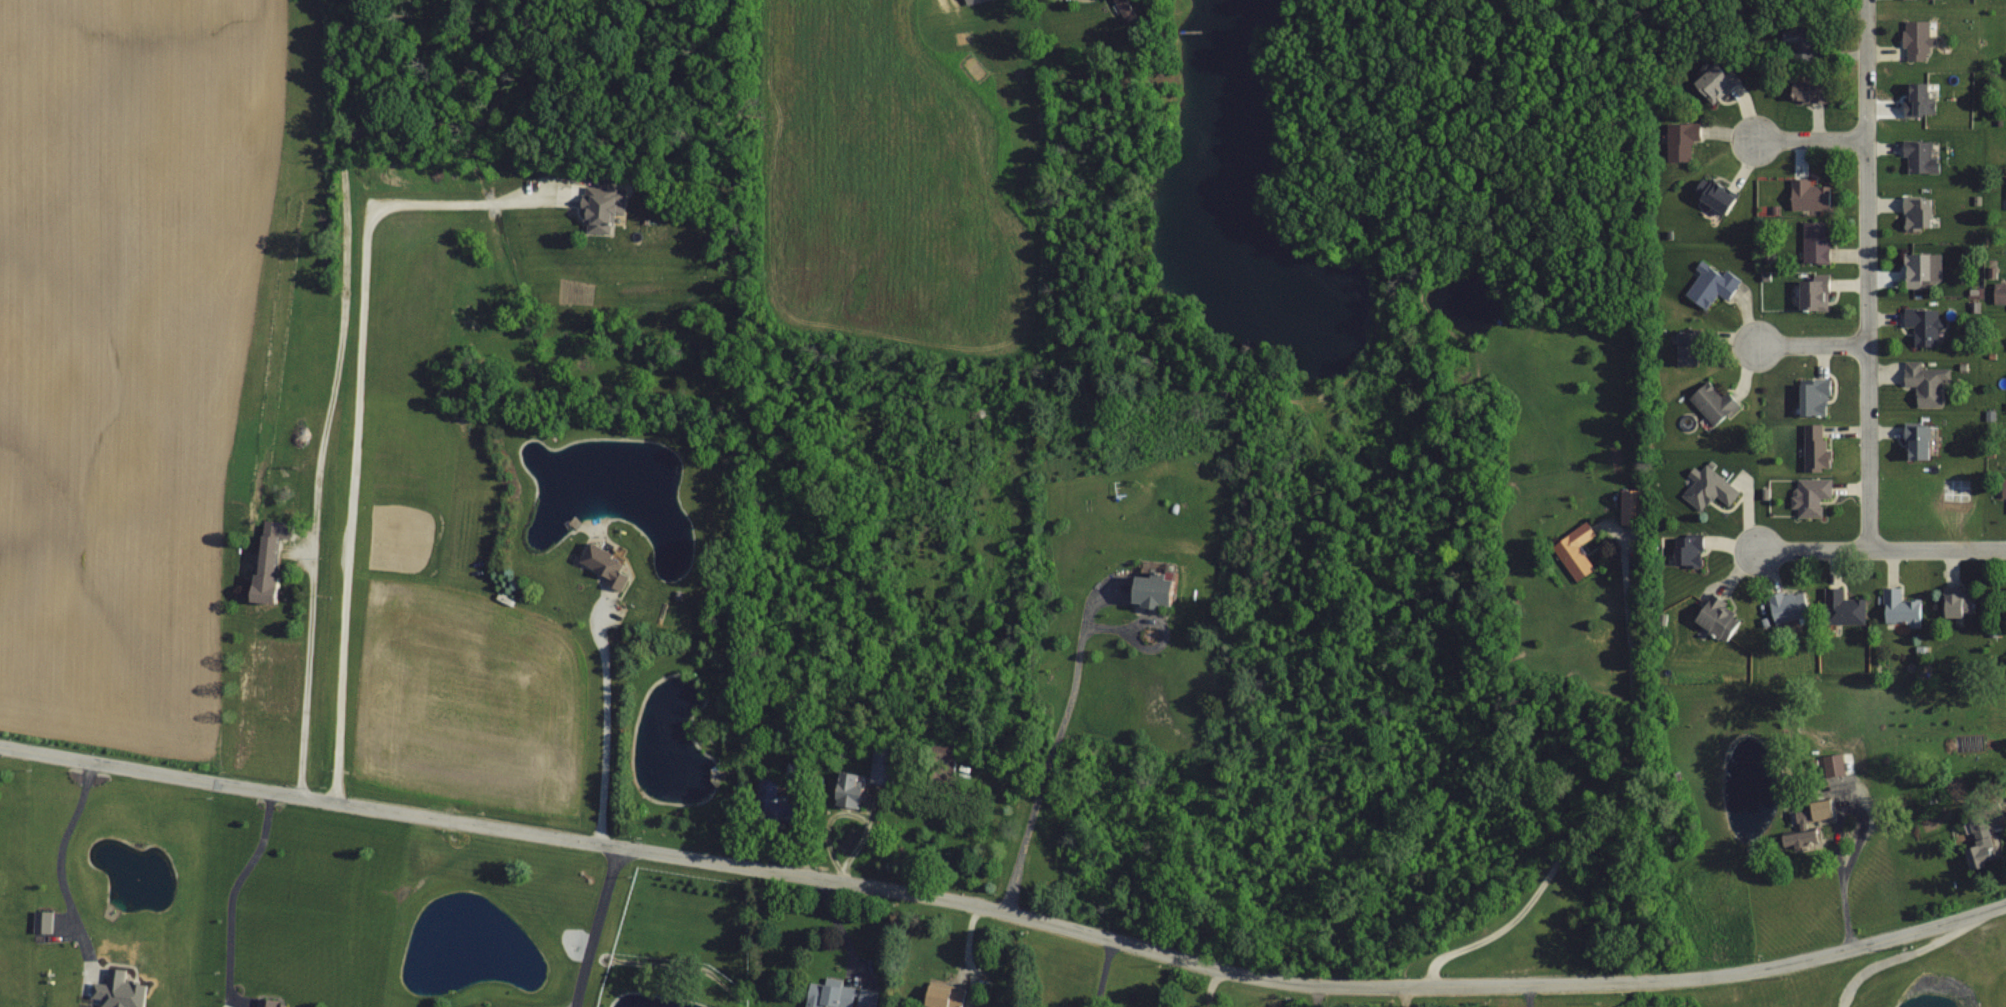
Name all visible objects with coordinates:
building: (1915, 38)
building: (1797, 89)
building: (1913, 98)
road: (1810, 140)
building: (1918, 157)
building: (2005, 192)
building: (1807, 193)
building: (1915, 212)
building: (1812, 241)
building: (1915, 270)
road: (1866, 276)
building: (1714, 287)
building: (1811, 291)
building: (1998, 291)
building: (1922, 325)
road: (1811, 347)
building: (1924, 383)
building: (1813, 397)
building: (1711, 403)
road: (357, 413)
building: (1915, 442)
building: (1814, 447)
building: (2002, 487)
building: (1708, 489)
building: (1807, 496)
building: (1683, 551)
road: (1881, 551)
building: (1573, 552)
building: (272, 578)
building: (2005, 598)
building: (1949, 601)
building: (1843, 604)
building: (1786, 605)
building: (1897, 608)
building: (1712, 615)
road: (307, 669)
road: (605, 727)
road: (1051, 759)
building: (882, 766)
building: (844, 789)
road: (1605, 791)
road: (1836, 833)
building: (1974, 841)
road: (60, 861)
road: (232, 891)
road: (1005, 913)
road: (598, 927)
road: (1894, 955)
road: (1101, 974)
park: (1919, 980)
road: (1210, 987)
building: (125, 991)
building: (839, 995)
building: (932, 996)
road: (1315, 996)
road: (1528, 996)
building: (271, 1001)

